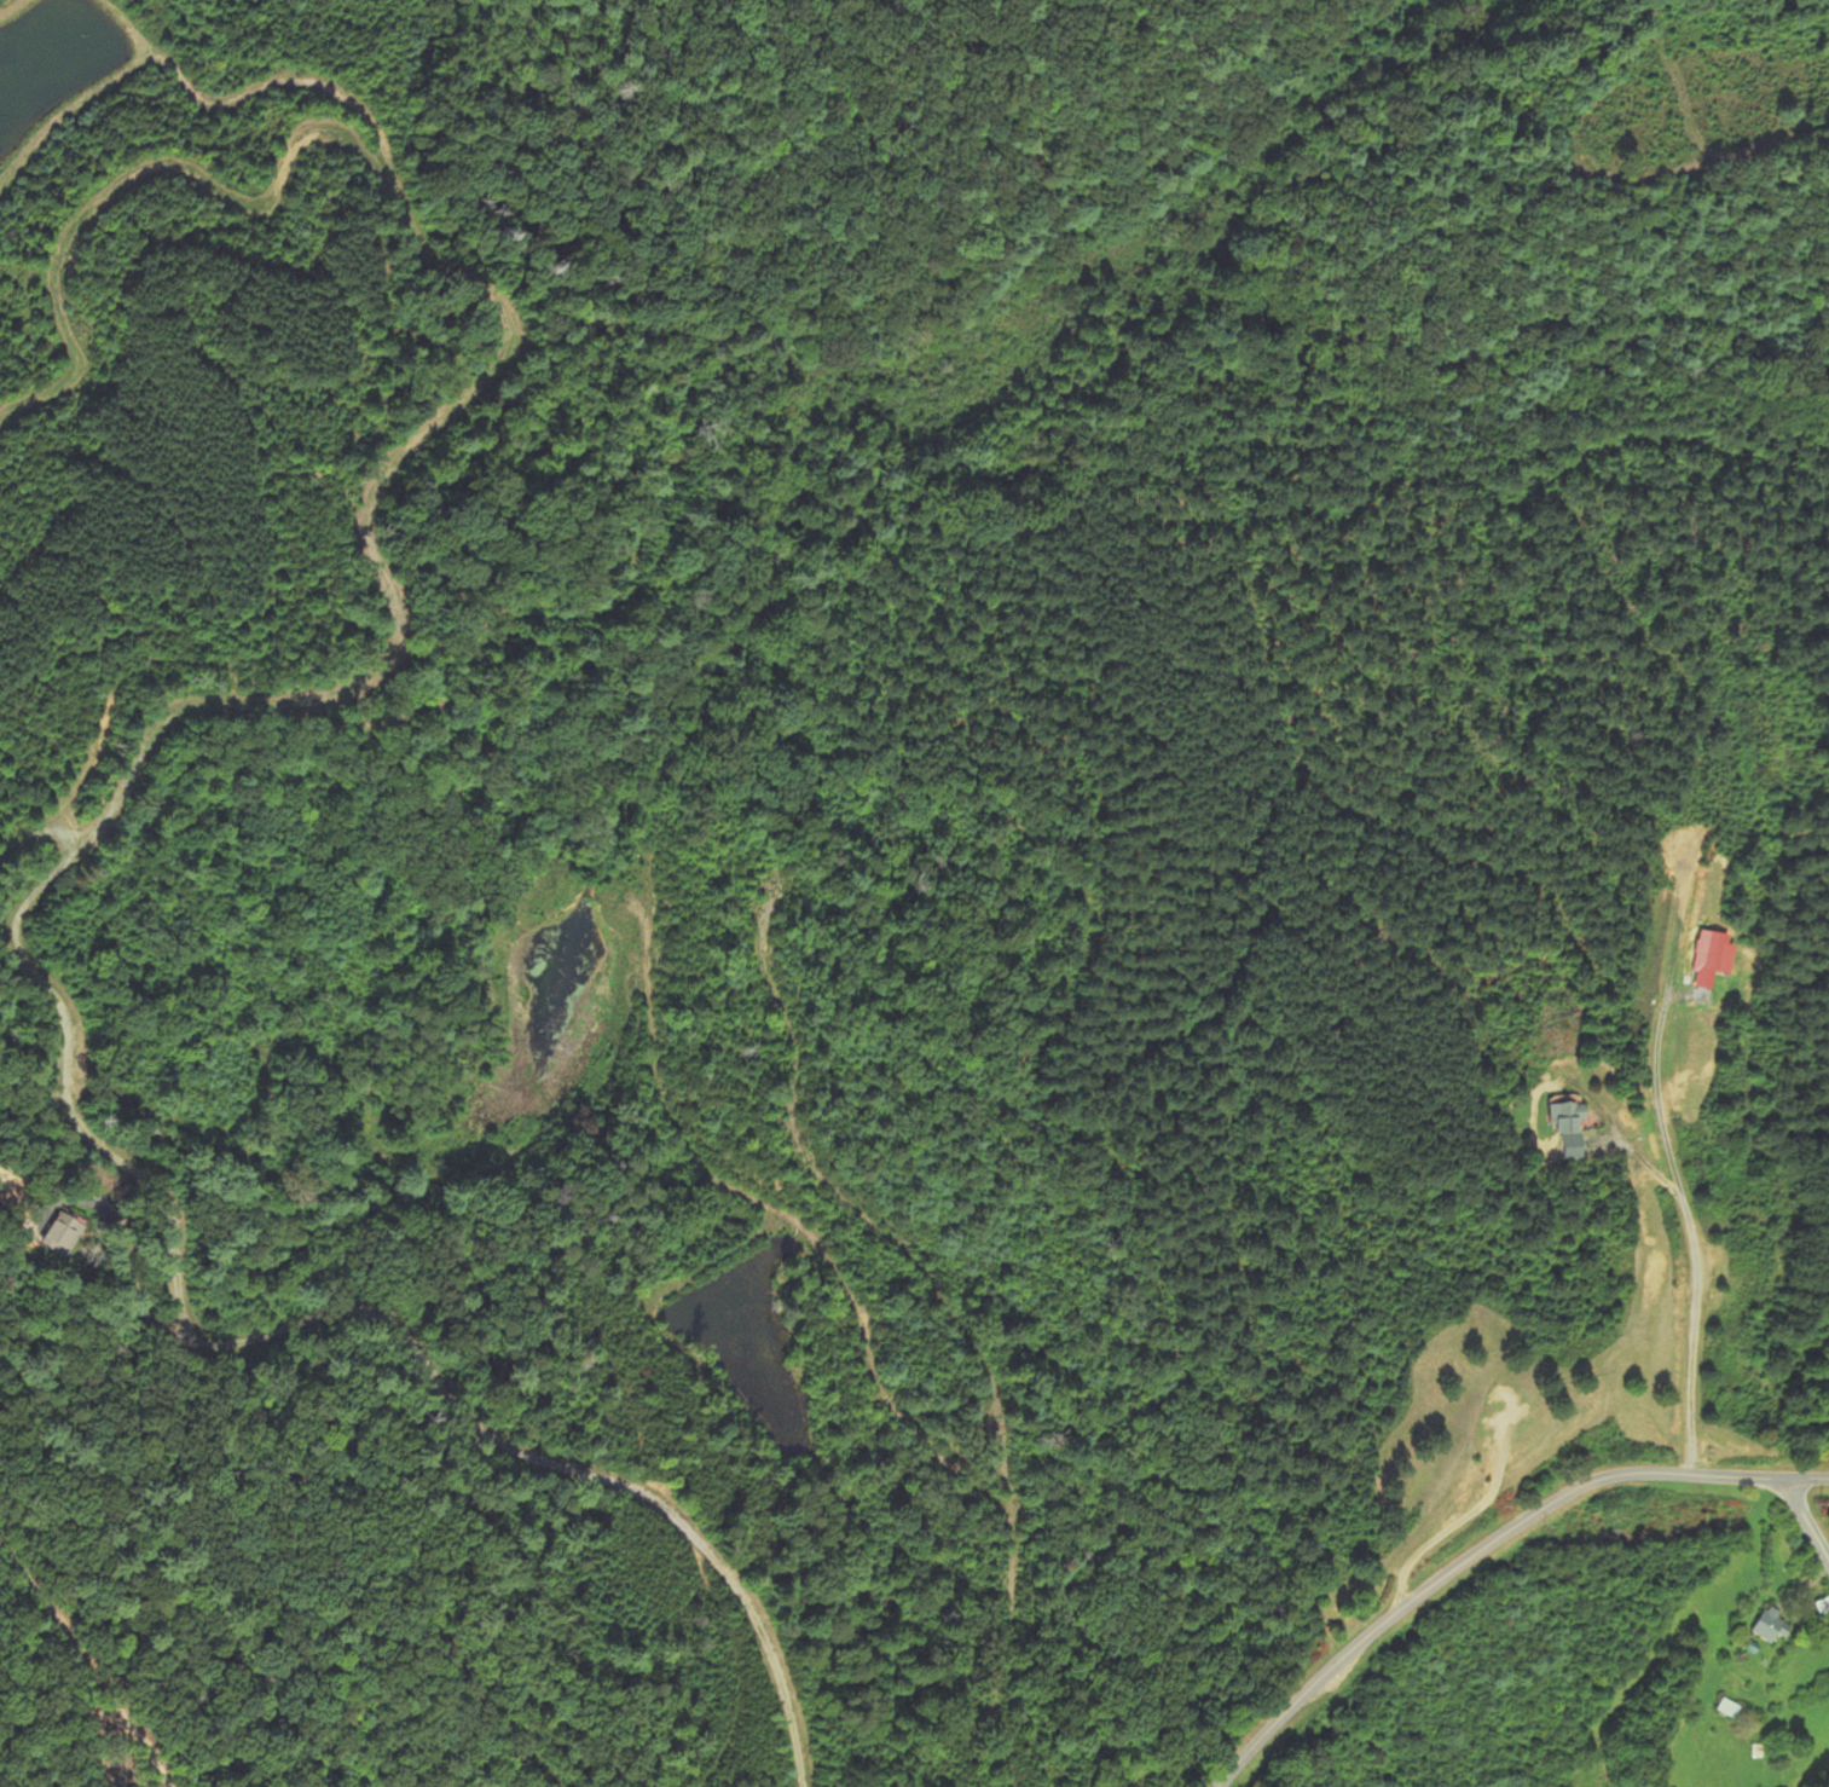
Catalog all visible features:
building: (1713, 956)
building: (1570, 1129)
building: (63, 1234)
road: (972, 1334)
road: (1807, 1520)
road: (1484, 1546)
road: (717, 1581)
building: (1823, 1607)
building: (1772, 1625)
road: (93, 1652)
building: (1730, 1708)

